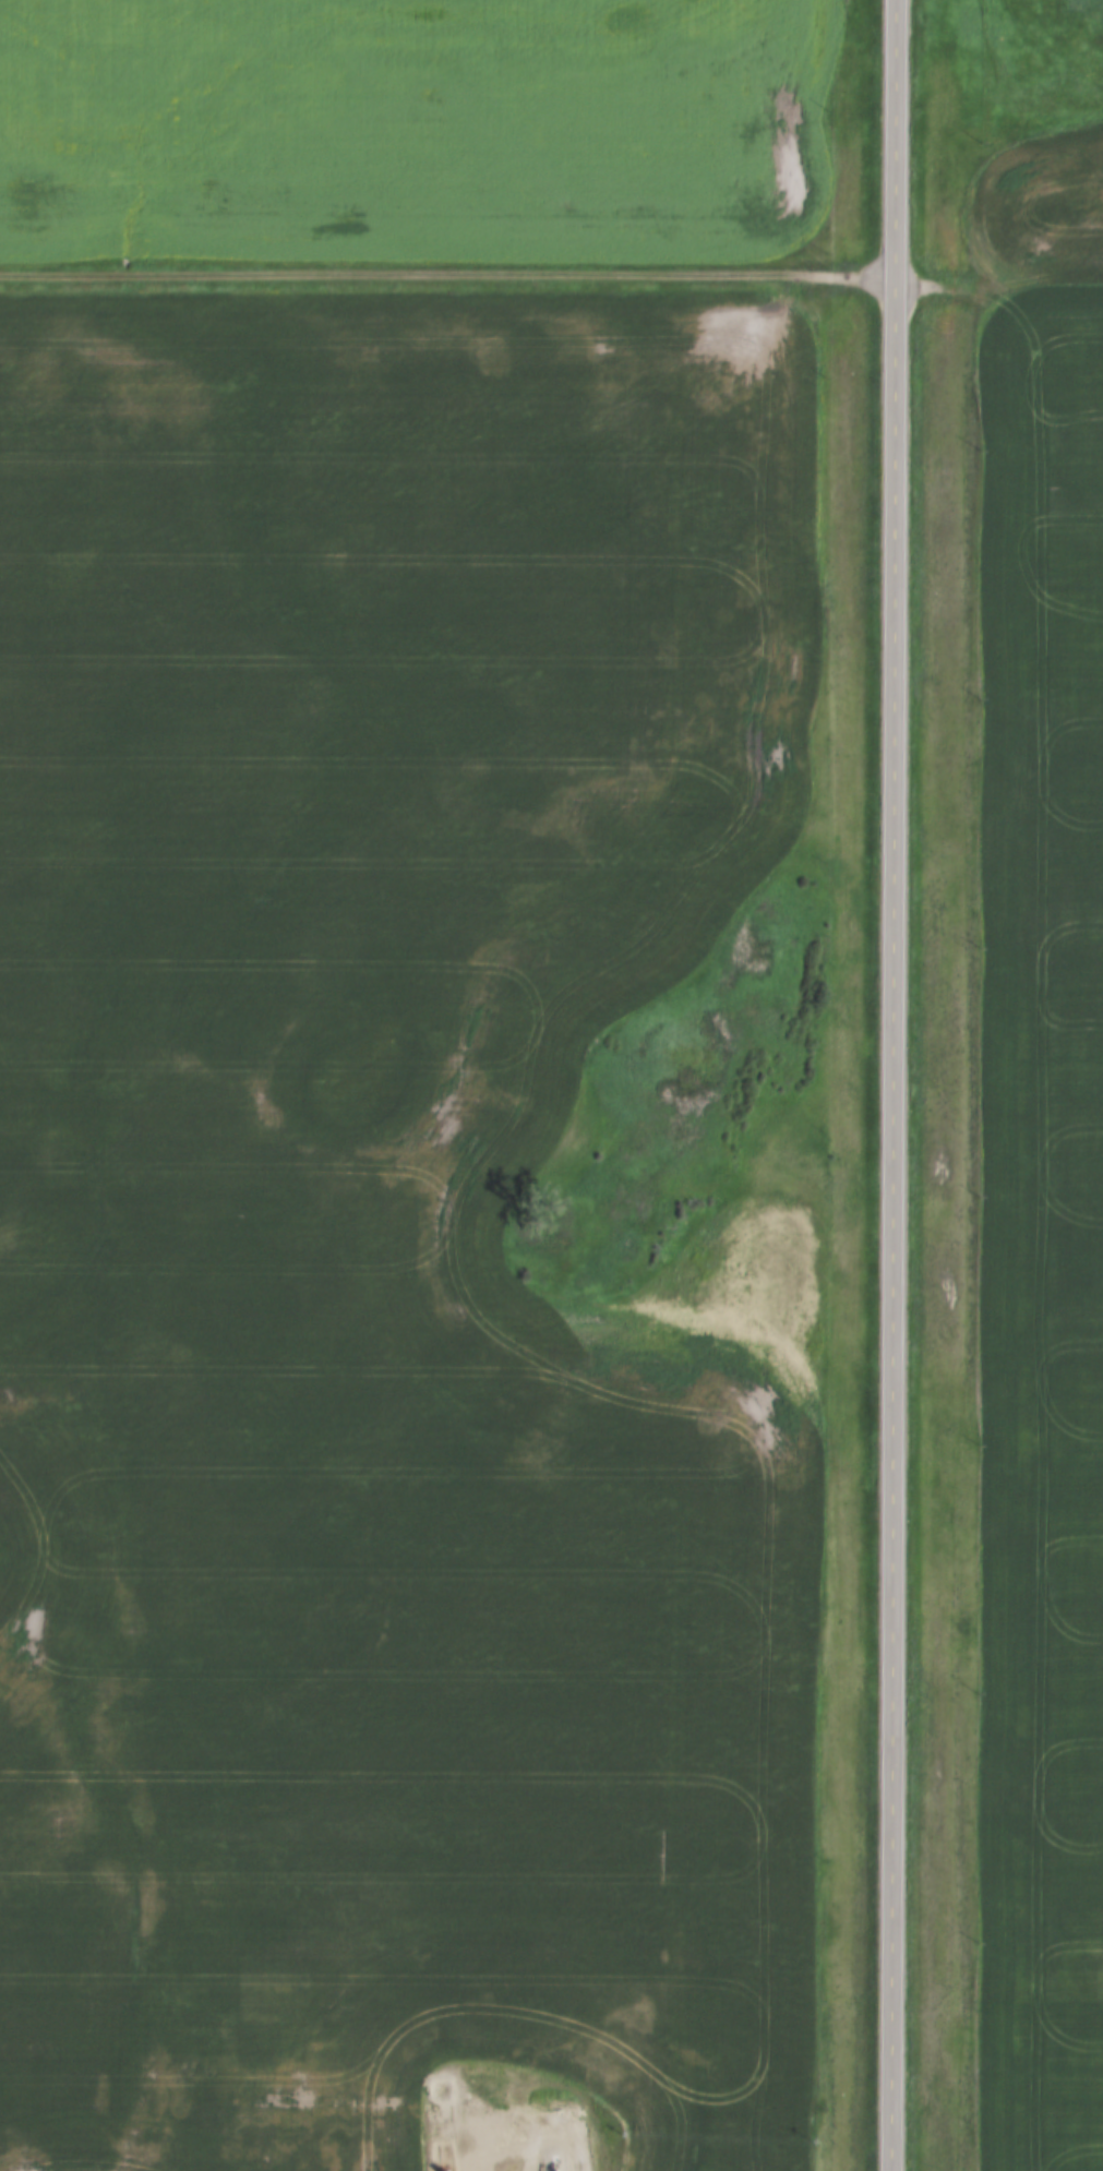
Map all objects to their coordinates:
road: (445, 275)
road: (889, 1085)
road: (502, 2150)

